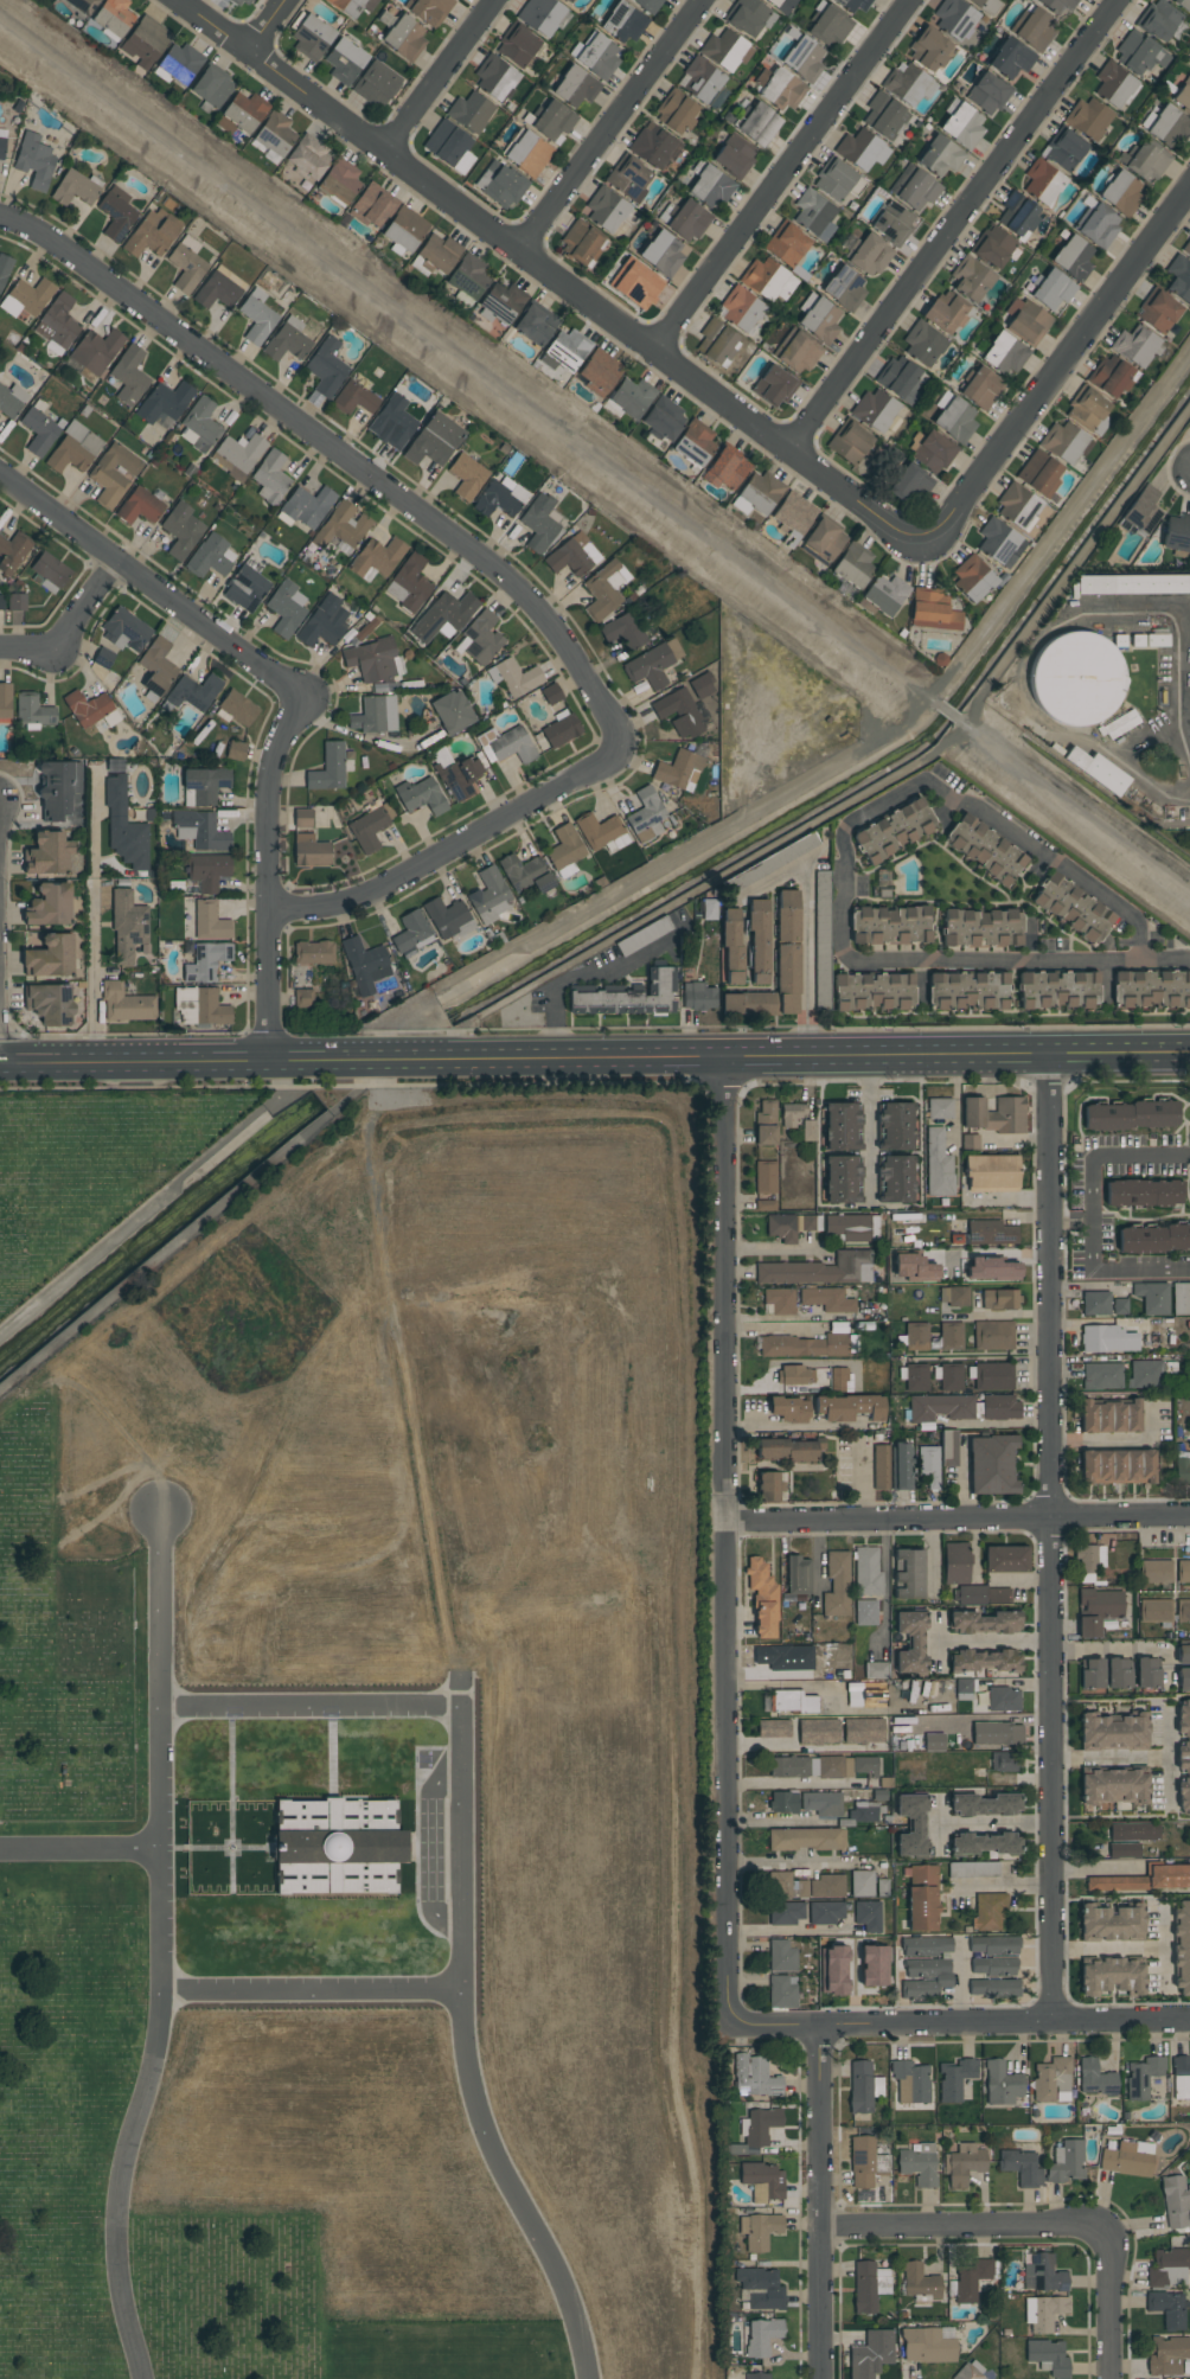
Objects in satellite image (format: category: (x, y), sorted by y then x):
building: (239, 1)
building: (567, 1)
building: (978, 2)
building: (1182, 4)
building: (82, 5)
building: (647, 5)
building: (781, 5)
building: (855, 5)
building: (351, 6)
building: (1056, 6)
building: (429, 11)
building: (540, 15)
building: (746, 15)
building: (114, 17)
building: (955, 19)
building: (1158, 20)
building: (622, 23)
road: (260, 25)
building: (828, 26)
building: (1034, 27)
building: (312, 37)
building: (404, 38)
building: (145, 41)
building: (516, 45)
building: (725, 50)
building: (929, 50)
building: (1139, 53)
building: (599, 56)
building: (804, 58)
building: (1010, 58)
building: (344, 60)
building: (179, 65)
building: (494, 77)
road: (450, 78)
building: (703, 83)
building: (904, 84)
building: (375, 85)
building: (211, 87)
building: (575, 87)
building: (781, 89)
building: (987, 94)
building: (1183, 96)
building: (244, 111)
building: (469, 111)
building: (884, 116)
building: (1087, 117)
building: (551, 121)
building: (757, 123)
building: (961, 123)
road: (614, 126)
building: (1165, 126)
building: (274, 133)
building: (1, 142)
building: (653, 146)
building: (449, 147)
building: (862, 149)
building: (1063, 149)
building: (526, 153)
building: (734, 155)
building: (940, 156)
building: (308, 158)
building: (1145, 160)
building: (33, 161)
road: (783, 174)
building: (628, 178)
building: (833, 179)
building: (339, 181)
building: (1042, 183)
building: (503, 185)
building: (75, 187)
building: (710, 187)
building: (914, 188)
building: (1122, 193)
building: (373, 205)
building: (606, 210)
building: (116, 213)
building: (814, 215)
building: (1018, 215)
building: (687, 222)
building: (892, 223)
road: (953, 224)
building: (1100, 226)
building: (404, 229)
building: (581, 243)
building: (786, 244)
building: (993, 247)
building: (1186, 247)
building: (439, 251)
building: (661, 254)
road: (527, 255)
building: (869, 255)
building: (1074, 258)
building: (186, 264)
building: (4, 268)
building: (468, 276)
building: (971, 279)
building: (1178, 280)
building: (768, 281)
building: (634, 284)
building: (844, 287)
building: (219, 288)
building: (1053, 289)
building: (26, 298)
building: (503, 301)
building: (740, 308)
building: (945, 313)
building: (1158, 313)
building: (256, 316)
building: (818, 318)
building: (1026, 321)
building: (58, 322)
building: (535, 325)
building: (289, 340)
building: (716, 343)
building: (922, 344)
building: (1133, 345)
building: (567, 350)
building: (96, 351)
building: (795, 351)
building: (1004, 353)
building: (326, 366)
building: (599, 372)
building: (129, 376)
building: (1108, 376)
building: (901, 379)
building: (773, 386)
building: (980, 388)
road: (1045, 396)
building: (631, 397)
building: (353, 398)
building: (11, 399)
building: (164, 404)
building: (1086, 407)
building: (875, 409)
building: (663, 418)
building: (955, 420)
building: (392, 422)
building: (199, 426)
building: (38, 433)
building: (433, 440)
building: (695, 442)
building: (849, 442)
building: (1062, 442)
building: (73, 449)
building: (933, 452)
building: (237, 454)
road: (339, 454)
building: (725, 468)
building: (114, 474)
building: (1038, 474)
building: (467, 477)
building: (270, 478)
building: (909, 484)
building: (757, 493)
building: (499, 498)
building: (139, 506)
building: (308, 506)
building: (1017, 506)
building: (1141, 510)
building: (793, 514)
building: (540, 523)
building: (341, 526)
building: (180, 530)
building: (1176, 532)
building: (824, 539)
building: (998, 543)
building: (12, 552)
building: (572, 556)
building: (211, 557)
building: (852, 564)
building: (47, 571)
building: (972, 578)
building: (408, 583)
building: (1132, 584)
building: (247, 586)
building: (604, 589)
road: (159, 590)
building: (884, 594)
building: (1, 602)
building: (17, 602)
building: (286, 608)
building: (933, 610)
building: (443, 616)
building: (324, 621)
road: (71, 627)
building: (124, 631)
building: (622, 632)
building: (481, 638)
building: (103, 658)
building: (372, 659)
building: (155, 669)
building: (514, 678)
building: (1076, 679)
building: (193, 692)
building: (550, 693)
building: (87, 708)
building: (237, 708)
building: (33, 710)
building: (452, 711)
building: (678, 712)
building: (375, 715)
building: (1119, 724)
building: (561, 730)
building: (506, 744)
building: (235, 750)
building: (328, 768)
building: (678, 769)
building: (1098, 770)
building: (460, 778)
building: (205, 784)
building: (58, 788)
building: (421, 797)
building: (645, 816)
building: (302, 818)
building: (123, 821)
building: (371, 825)
building: (201, 831)
building: (597, 831)
building: (892, 831)
road: (450, 846)
building: (799, 846)
road: (842, 848)
building: (984, 849)
building: (311, 851)
building: (564, 851)
building: (47, 855)
building: (207, 871)
building: (524, 874)
building: (882, 884)
road: (268, 885)
building: (490, 896)
building: (49, 906)
building: (1073, 908)
building: (708, 909)
building: (787, 915)
building: (447, 919)
building: (210, 921)
building: (889, 926)
building: (128, 928)
building: (981, 928)
building: (410, 932)
building: (821, 933)
building: (759, 941)
building: (731, 947)
building: (314, 953)
road: (651, 953)
building: (50, 957)
building: (206, 961)
road: (807, 963)
building: (364, 965)
road: (1166, 965)
building: (787, 967)
road: (96, 970)
road: (558, 989)
building: (1151, 989)
building: (965, 990)
building: (1057, 990)
building: (874, 991)
building: (302, 997)
building: (629, 997)
building: (698, 997)
building: (50, 1004)
building: (126, 1004)
building: (201, 1006)
road: (0, 1019)
road: (594, 1057)
road: (955, 1106)
building: (940, 1108)
building: (792, 1114)
building: (993, 1114)
building: (1130, 1115)
building: (766, 1124)
building: (840, 1126)
road: (869, 1127)
building: (895, 1127)
building: (970, 1141)
building: (938, 1164)
building: (991, 1172)
building: (764, 1177)
building: (843, 1179)
building: (896, 1179)
building: (1144, 1192)
road: (156, 1203)
building: (764, 1206)
road: (1094, 1214)
building: (788, 1227)
building: (851, 1228)
building: (1153, 1239)
road: (768, 1248)
road: (993, 1252)
building: (914, 1268)
building: (819, 1270)
building: (991, 1270)
building: (958, 1296)
building: (1152, 1298)
building: (1181, 1298)
building: (827, 1299)
building: (999, 1299)
building: (780, 1300)
building: (1095, 1303)
building: (1119, 1306)
road: (1002, 1315)
road: (773, 1330)
building: (993, 1335)
building: (933, 1336)
building: (1107, 1338)
building: (805, 1345)
building: (1150, 1374)
building: (795, 1375)
building: (993, 1376)
building: (1101, 1376)
building: (839, 1377)
building: (916, 1377)
building: (951, 1377)
building: (849, 1407)
building: (999, 1407)
building: (940, 1408)
building: (789, 1409)
building: (1109, 1416)
road: (994, 1424)
road: (796, 1428)
road: (1112, 1440)
building: (949, 1448)
building: (788, 1450)
building: (1182, 1462)
building: (991, 1464)
building: (928, 1465)
building: (900, 1466)
building: (1118, 1466)
building: (879, 1467)
road: (860, 1483)
building: (768, 1486)
road: (955, 1520)
road: (1051, 1539)
road: (723, 1540)
building: (1005, 1559)
building: (1089, 1560)
building: (955, 1563)
building: (866, 1571)
building: (1156, 1571)
building: (1183, 1571)
building: (908, 1574)
building: (798, 1575)
building: (837, 1584)
building: (981, 1594)
building: (762, 1598)
building: (1098, 1610)
building: (1154, 1610)
building: (1183, 1610)
building: (865, 1612)
building: (984, 1623)
road: (993, 1642)
building: (910, 1643)
road: (1120, 1650)
building: (1183, 1654)
building: (782, 1661)
building: (985, 1661)
building: (875, 1670)
building: (1118, 1674)
building: (1146, 1674)
building: (1092, 1675)
building: (1183, 1680)
building: (962, 1689)
building: (863, 1696)
building: (1003, 1699)
building: (793, 1701)
building: (773, 1728)
building: (863, 1731)
building: (818, 1732)
building: (1114, 1732)
building: (997, 1734)
building: (933, 1742)
road: (759, 1748)
building: (1183, 1754)
road: (1134, 1760)
building: (1004, 1761)
building: (865, 1765)
building: (788, 1766)
building: (834, 1767)
road: (1167, 1783)
road: (794, 1784)
building: (1114, 1786)
building: (782, 1802)
building: (821, 1803)
building: (984, 1805)
building: (863, 1811)
road: (766, 1821)
building: (910, 1825)
road: (994, 1825)
building: (1133, 1831)
building: (806, 1838)
building: (985, 1843)
road: (78, 1847)
building: (339, 1847)
building: (1124, 1850)
road: (794, 1860)
road: (1094, 1868)
building: (1145, 1880)
building: (862, 1884)
building: (786, 1886)
road: (1002, 1886)
building: (826, 1887)
building: (921, 1898)
road: (460, 1910)
building: (825, 1912)
building: (989, 1912)
building: (786, 1913)
building: (868, 1916)
building: (1112, 1923)
road: (787, 1929)
building: (993, 1945)
building: (927, 1946)
road: (1163, 1946)
road: (1108, 1948)
building: (1182, 1948)
road: (161, 1950)
building: (781, 1956)
building: (874, 1966)
building: (993, 1966)
building: (832, 1971)
building: (926, 1978)
building: (1111, 1978)
building: (994, 1988)
road: (312, 1990)
building: (782, 1991)
road: (961, 2022)
building: (754, 2077)
building: (1143, 2077)
building: (1095, 2078)
building: (1181, 2078)
building: (954, 2079)
building: (1051, 2080)
building: (910, 2081)
building: (1002, 2084)
building: (863, 2086)
building: (760, 2127)
building: (1127, 2159)
building: (865, 2162)
building: (1066, 2162)
building: (919, 2164)
building: (964, 2164)
building: (1021, 2168)
building: (763, 2181)
road: (819, 2201)
building: (1175, 2201)
road: (960, 2224)
building: (759, 2231)
building: (1169, 2268)
building: (1042, 2274)
building: (971, 2279)
building: (919, 2282)
building: (761, 2289)
road: (1109, 2304)
building: (1167, 2308)
building: (1047, 2313)
building: (1189, 2313)
building: (762, 2336)
building: (928, 2345)
building: (871, 2354)
building: (1166, 2355)
building: (1049, 2356)
building: (970, 2371)
building: (757, 2375)

